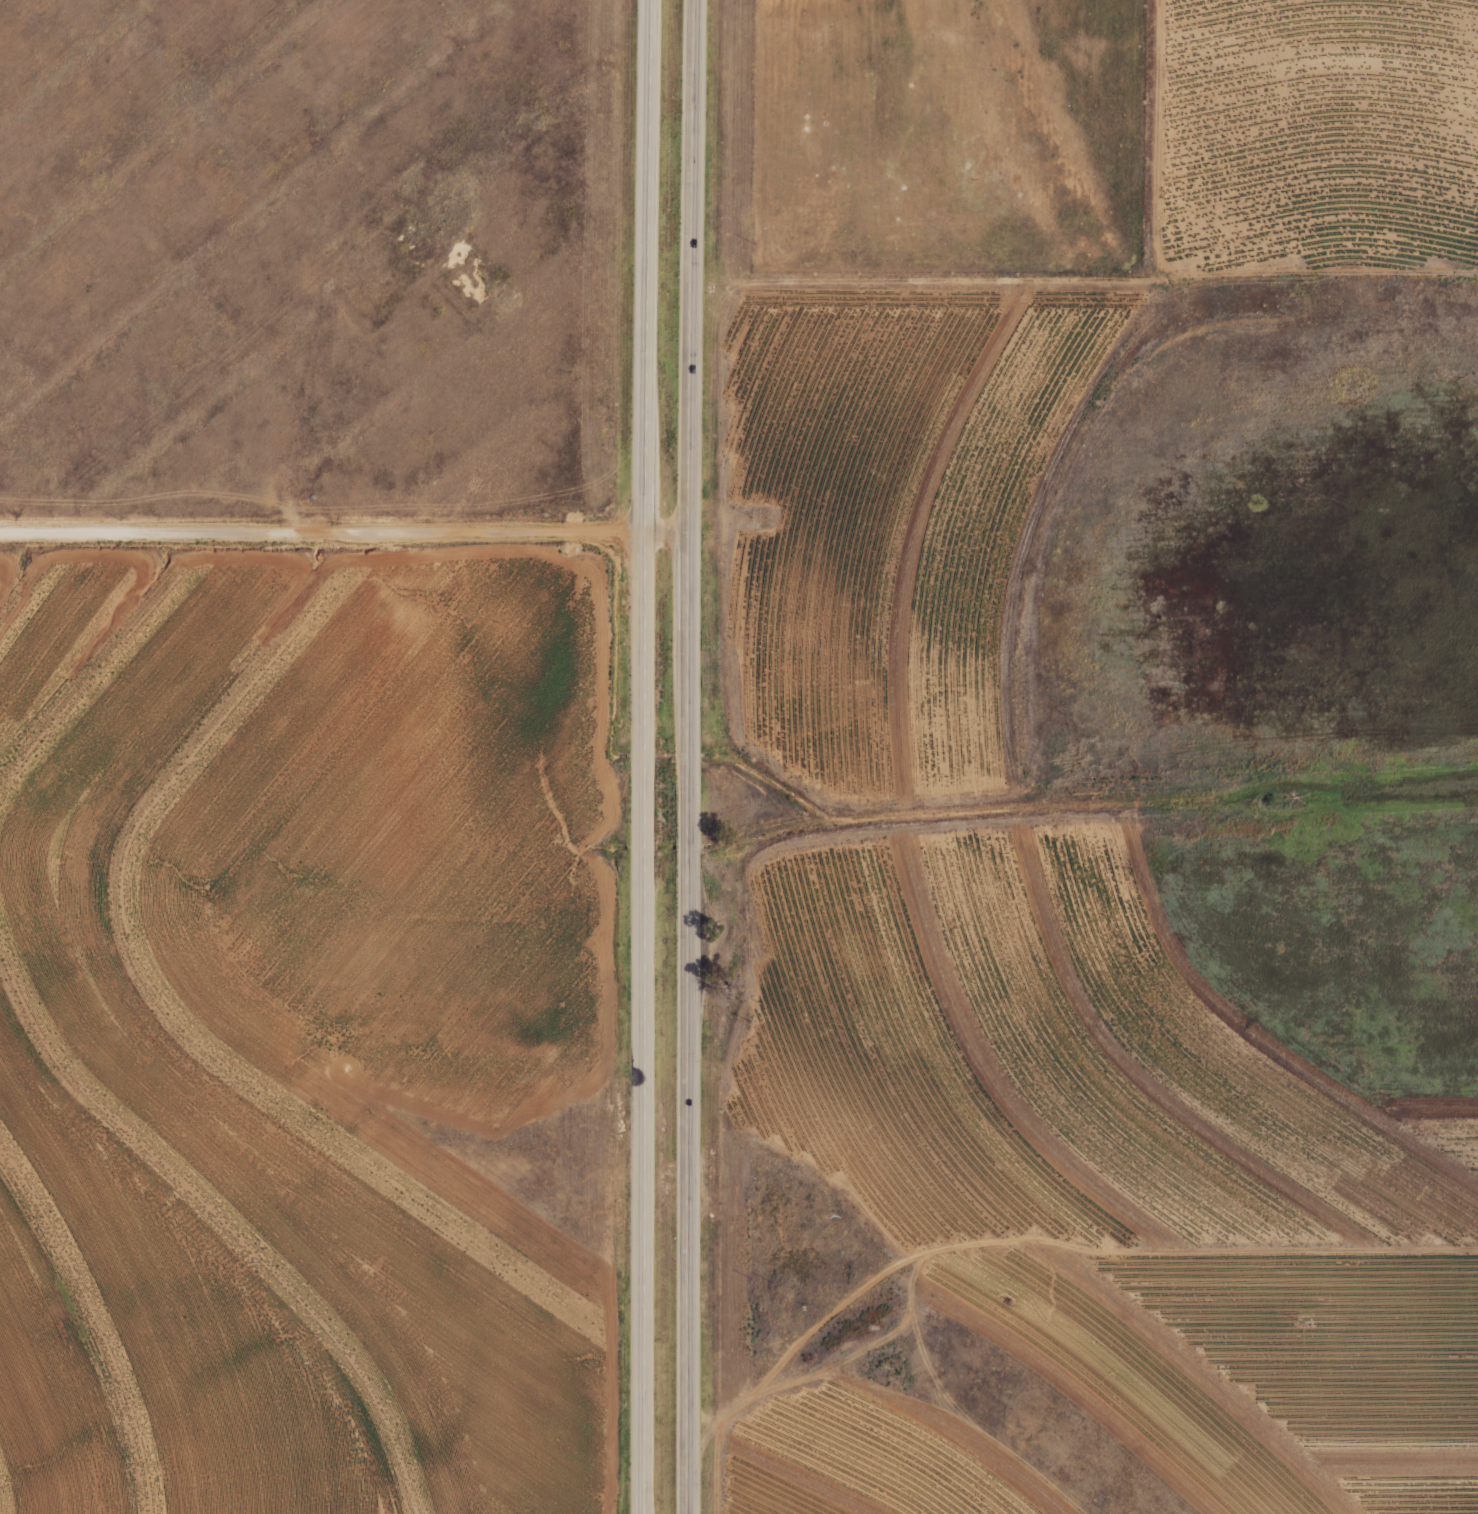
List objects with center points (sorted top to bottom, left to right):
road: (322, 539)
road: (646, 756)
road: (694, 756)

